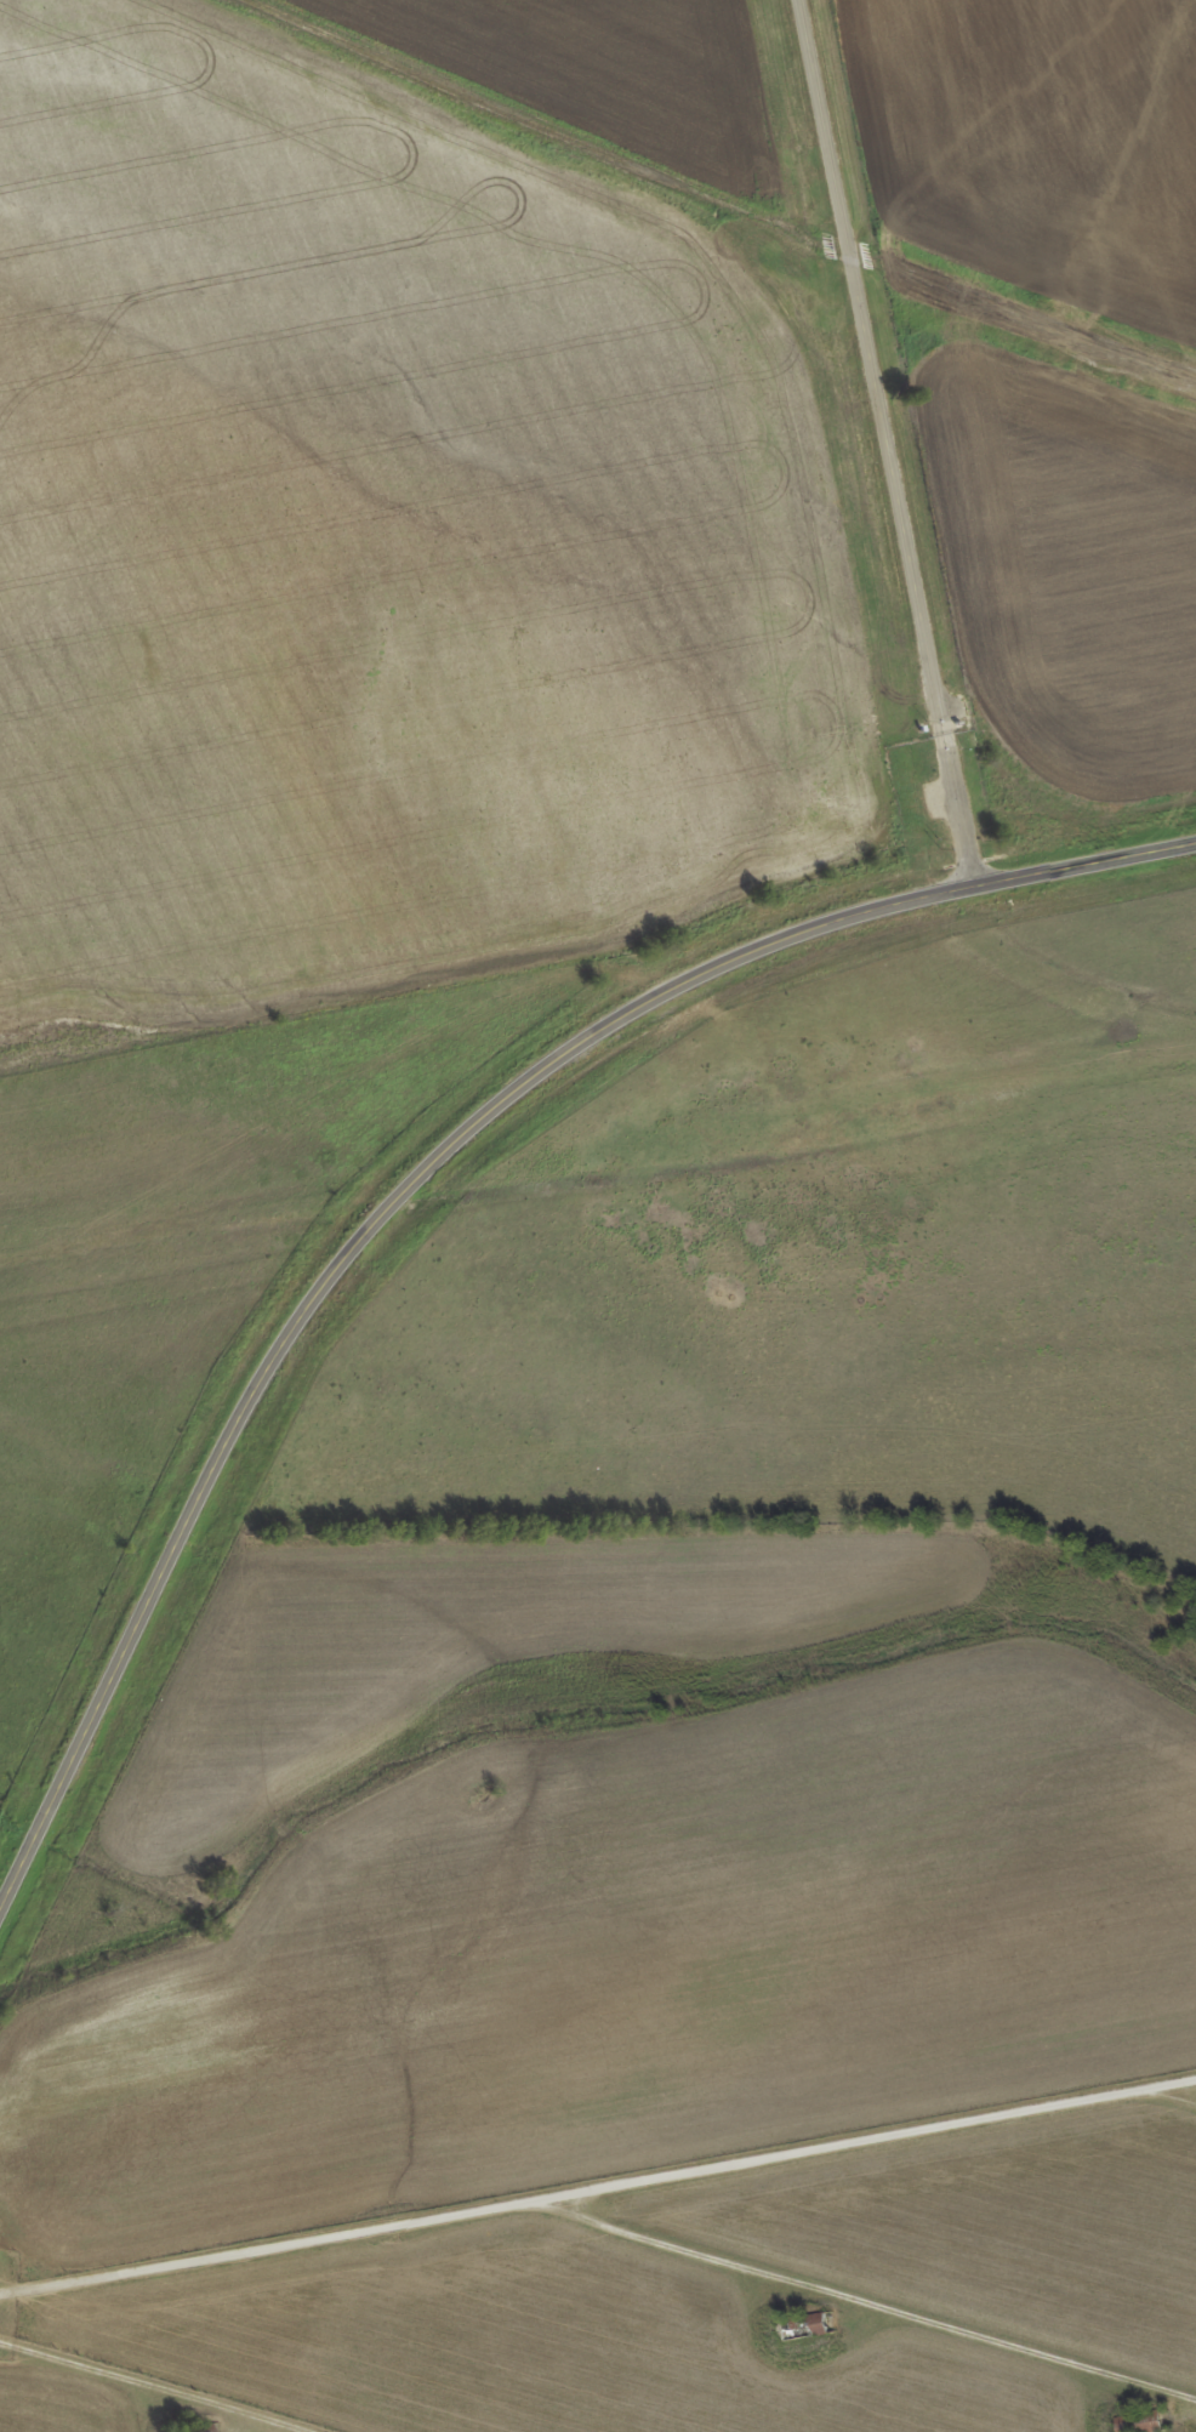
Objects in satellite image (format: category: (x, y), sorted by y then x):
road: (898, 444)
railway: (733, 633)
railway: (598, 1158)
road: (425, 1172)
road: (1162, 2096)
road: (597, 2182)
road: (853, 2299)
building: (805, 2325)
road: (147, 2388)
building: (1140, 2421)
building: (193, 2428)

